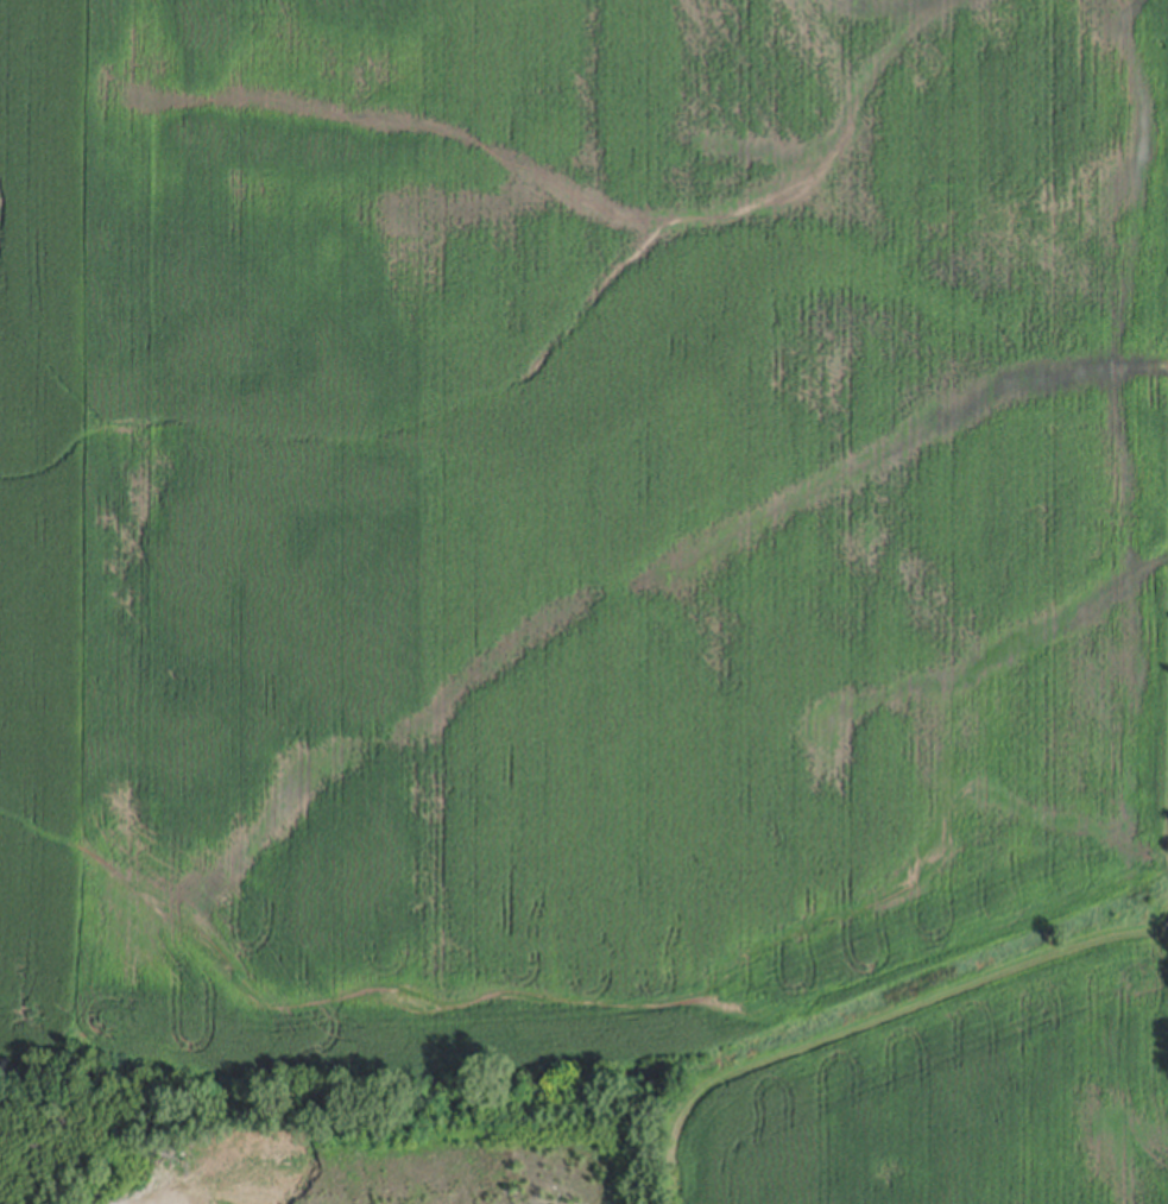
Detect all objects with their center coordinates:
crop: (598, 568)
quarry: (332, 1143)

